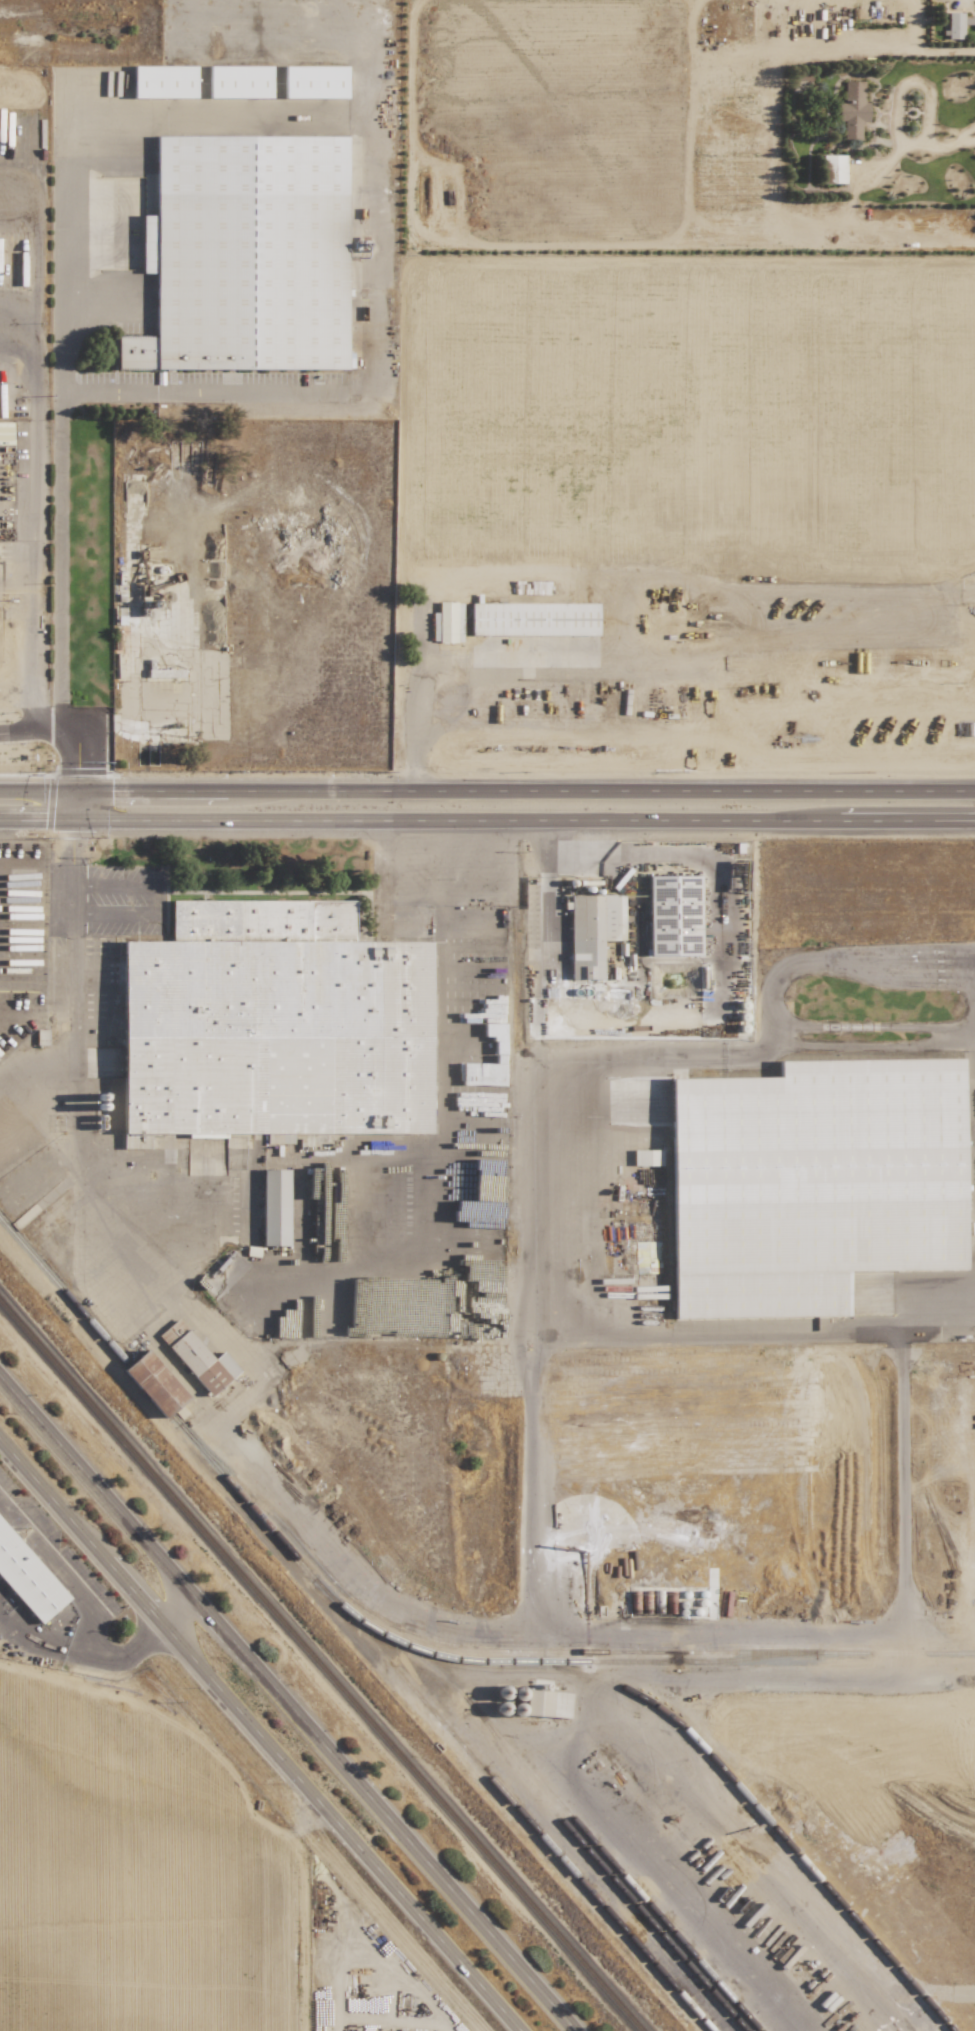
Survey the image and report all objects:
building: (954, 25)
building: (164, 81)
building: (239, 81)
building: (315, 82)
road: (903, 87)
road: (156, 107)
building: (852, 109)
road: (950, 145)
building: (832, 169)
building: (246, 255)
building: (534, 619)
building: (447, 623)
road: (26, 656)
building: (166, 673)
road: (497, 683)
road: (415, 702)
road: (14, 714)
road: (45, 722)
road: (21, 730)
road: (487, 791)
road: (487, 821)
road: (70, 878)
road: (380, 879)
road: (153, 898)
building: (673, 915)
building: (593, 932)
road: (769, 994)
building: (274, 1025)
building: (114, 1103)
road: (75, 1124)
building: (646, 1157)
building: (812, 1183)
building: (274, 1207)
building: (198, 1358)
building: (154, 1383)
road: (62, 1564)
building: (28, 1577)
railway: (356, 1617)
road: (104, 1653)
railway: (516, 1654)
railway: (320, 1667)
building: (547, 1703)
road: (287, 1704)
road: (258, 1734)
railway: (519, 1811)
railway: (758, 1811)
railway: (576, 1824)
railway: (608, 1875)

